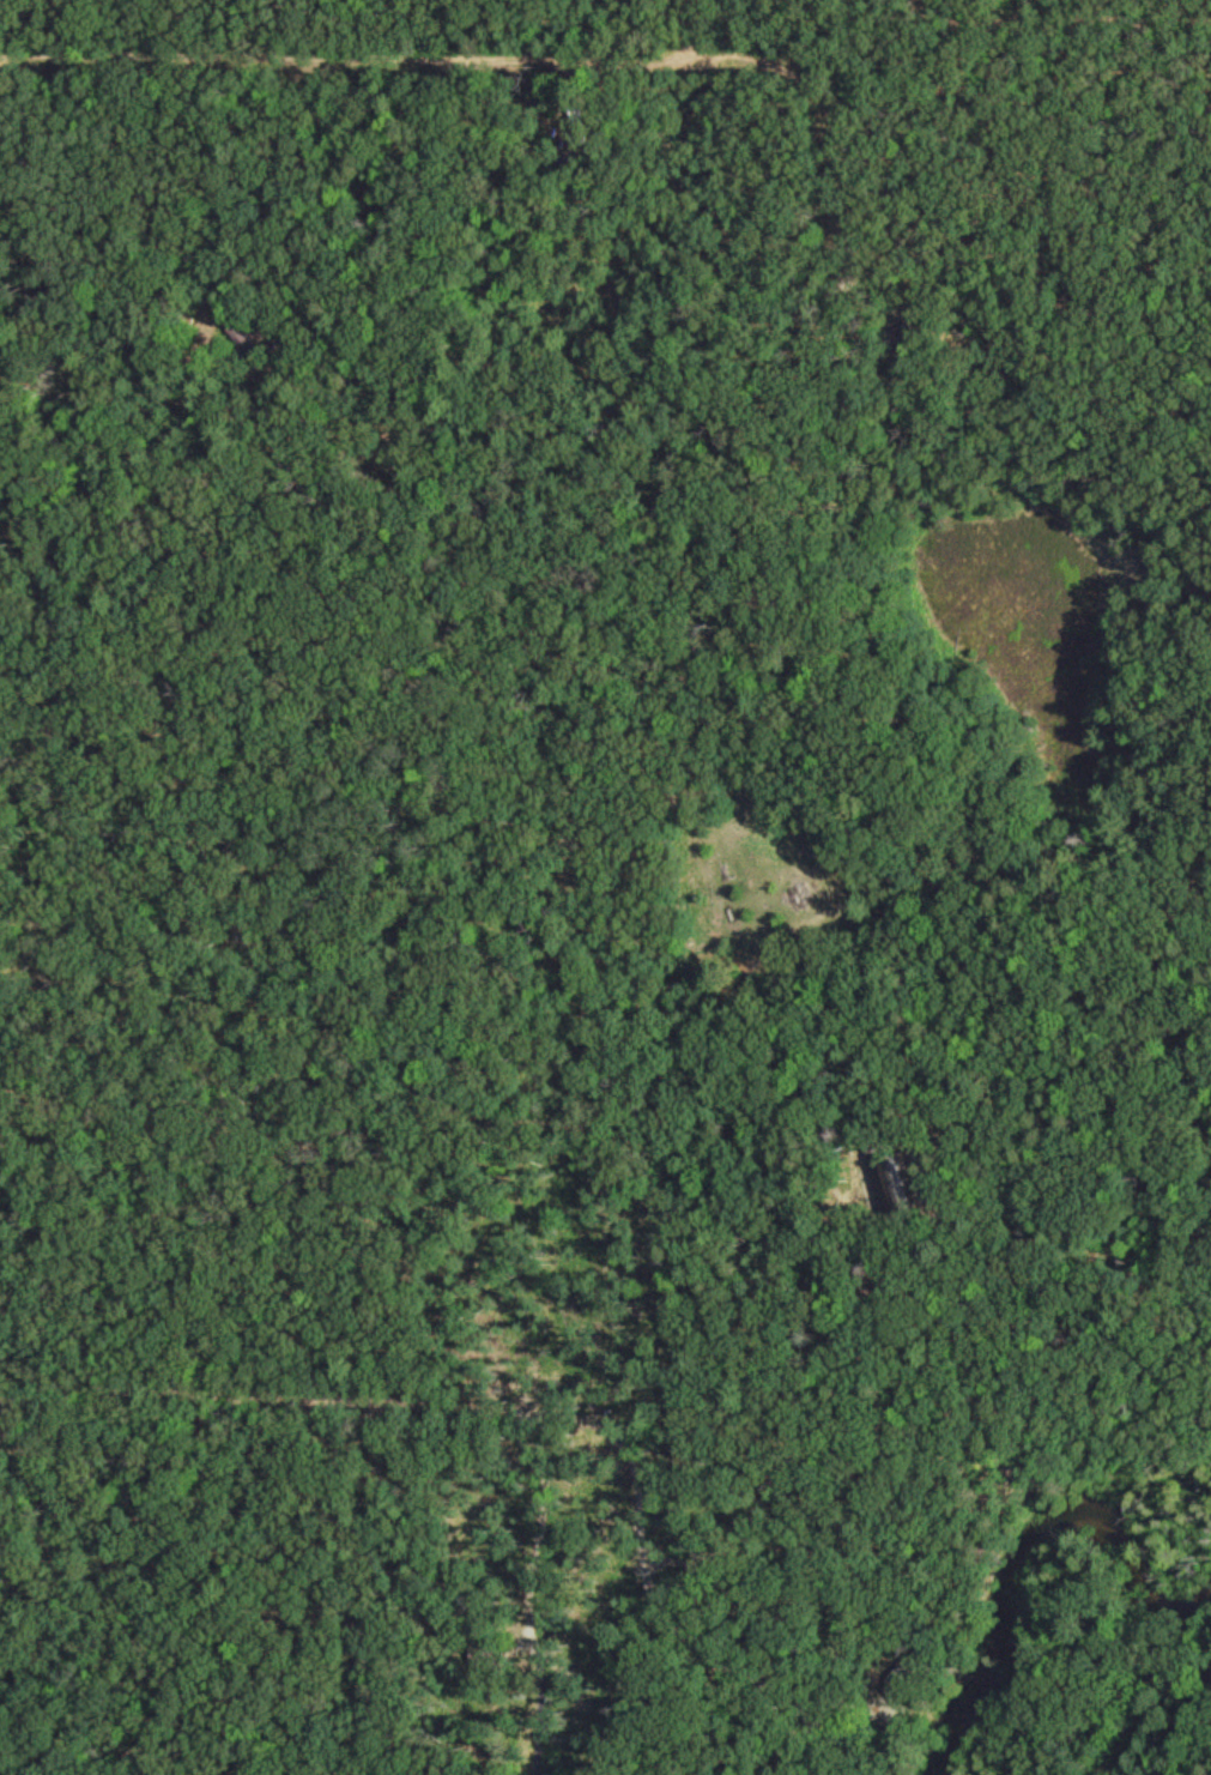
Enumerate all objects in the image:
road: (484, 12)
building: (581, 121)
building: (229, 324)
river: (1024, 1539)
road: (78, 1565)

